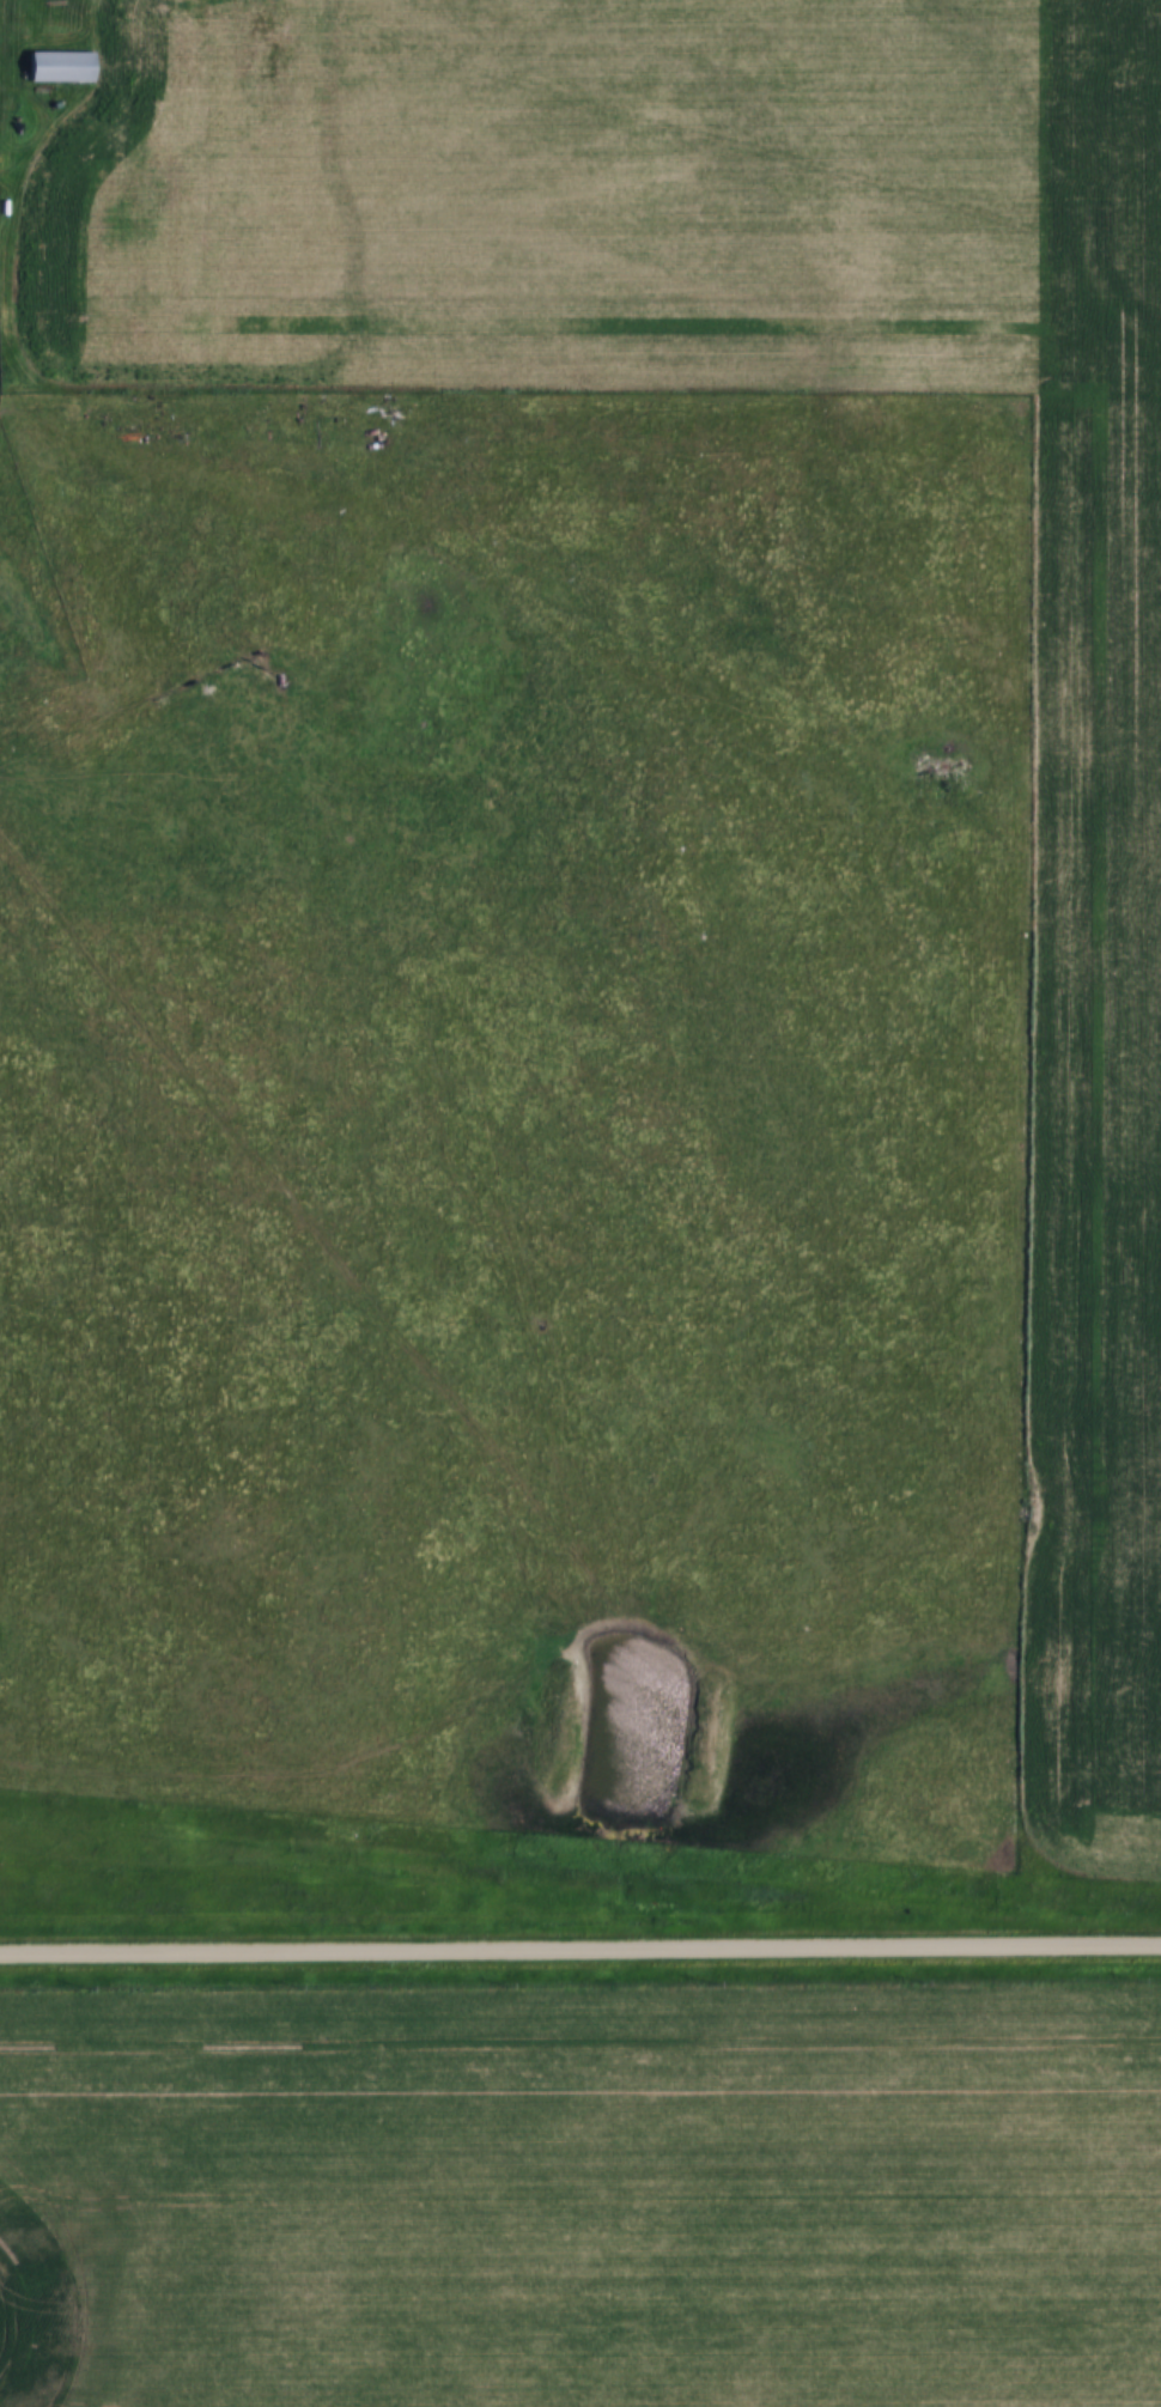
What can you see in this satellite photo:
building: (62, 65)
road: (580, 1963)

